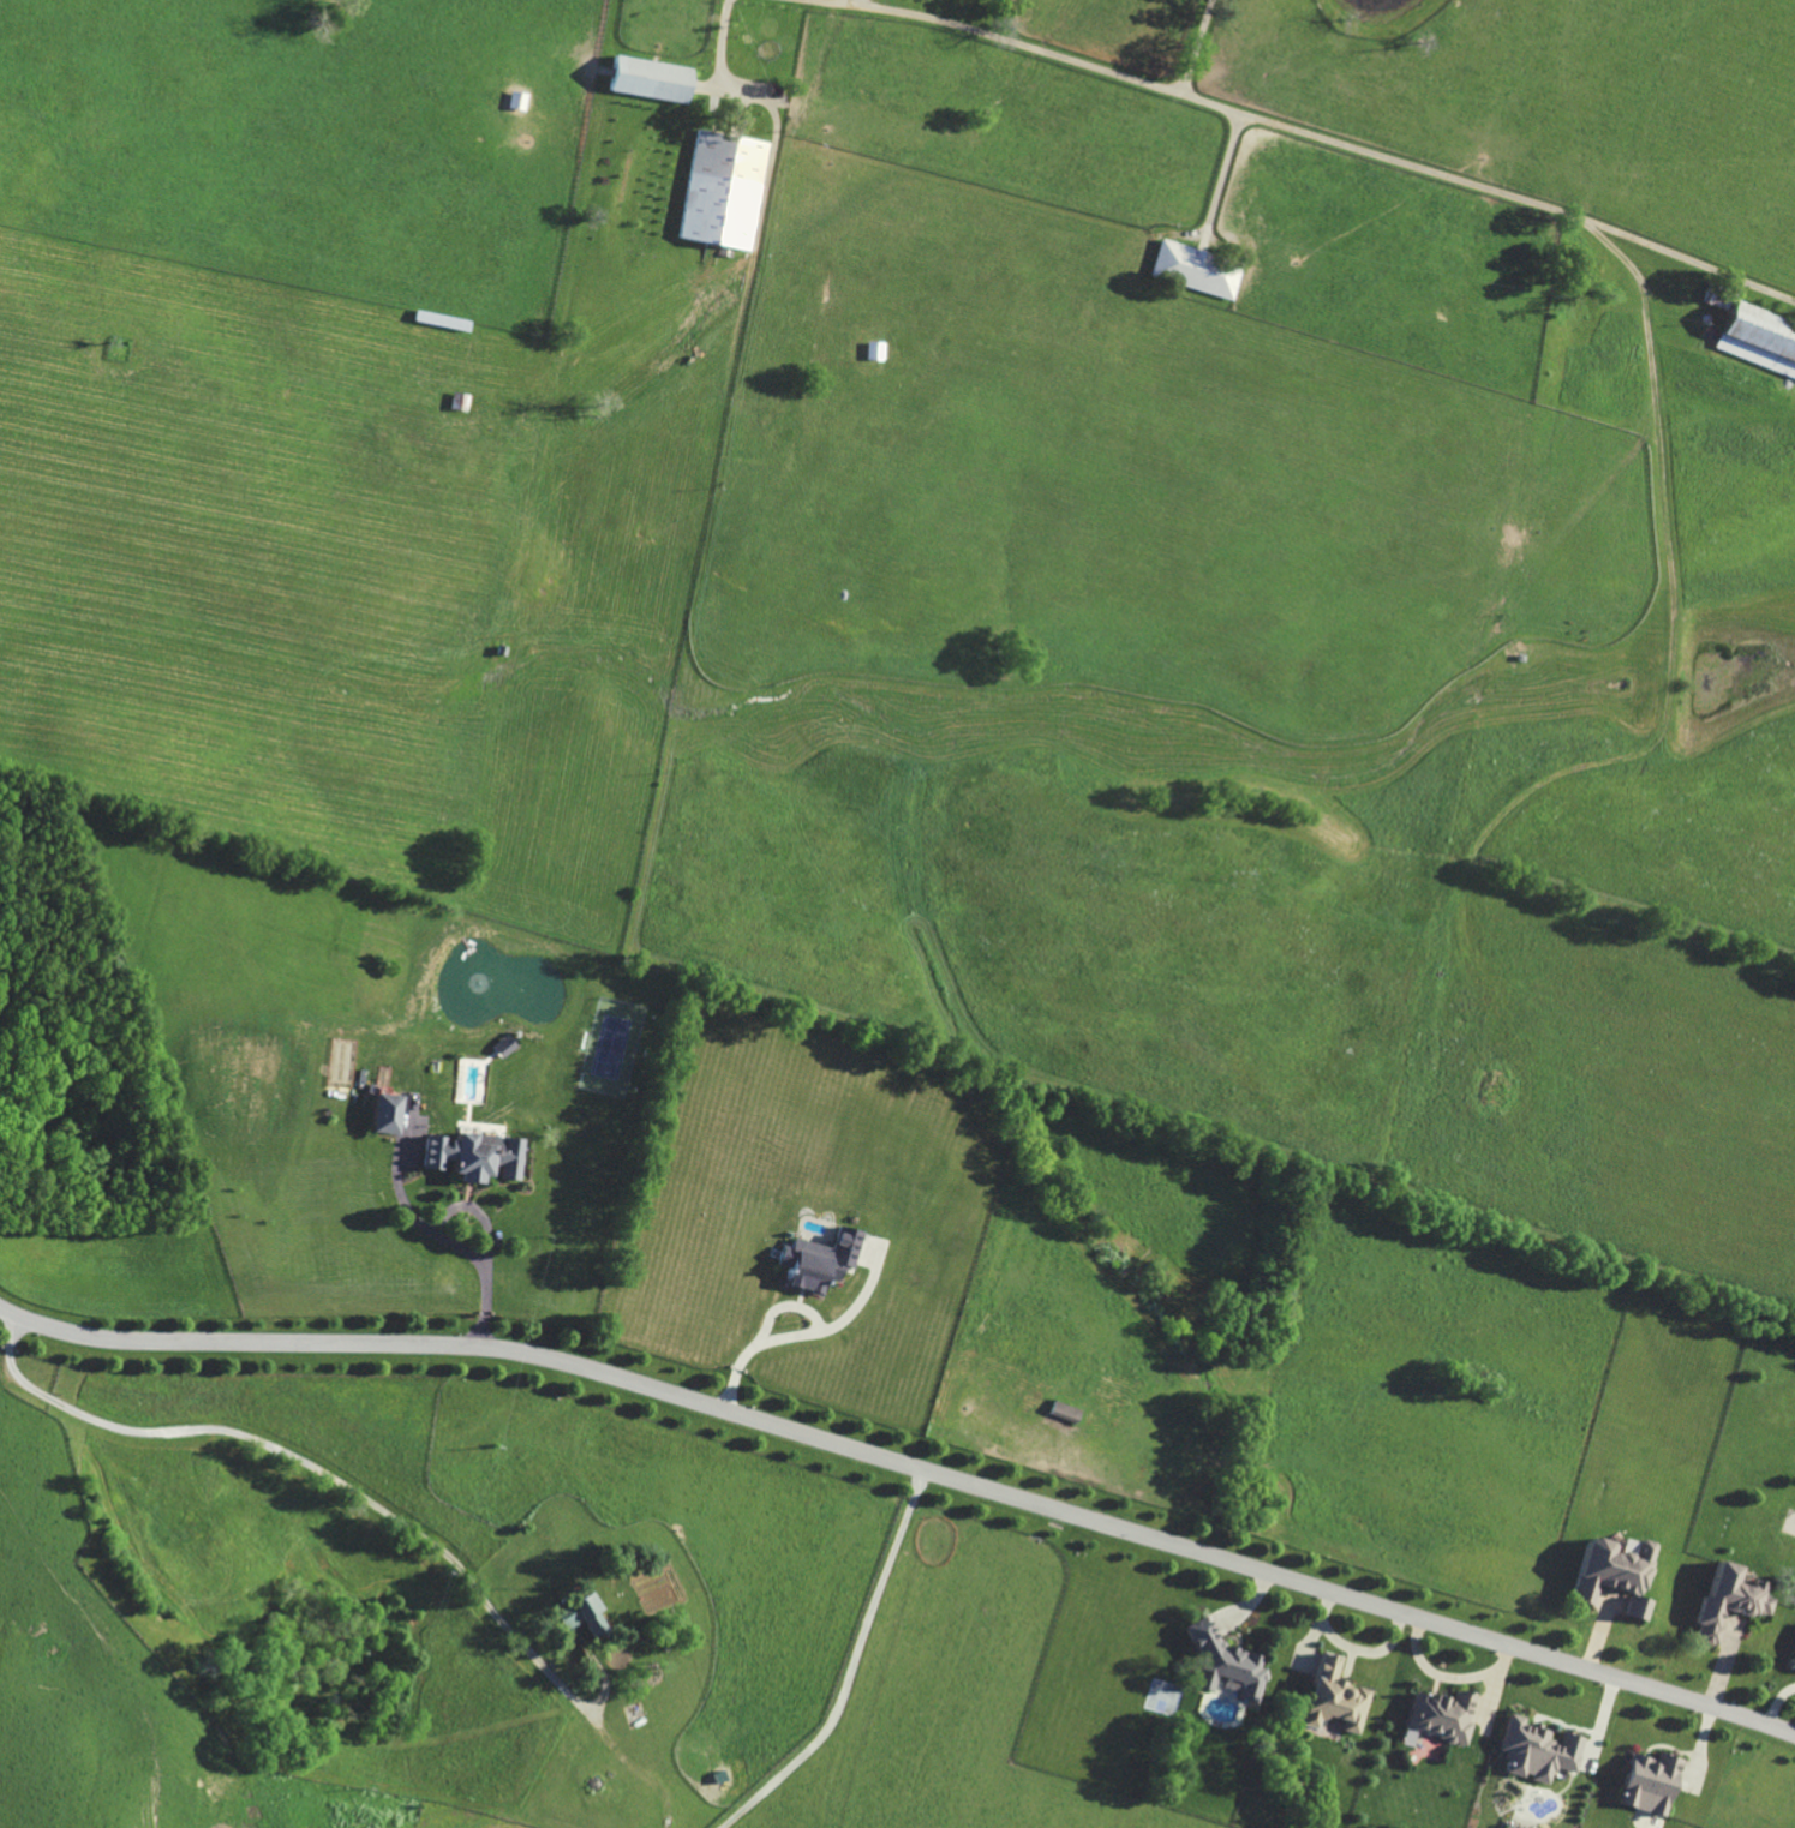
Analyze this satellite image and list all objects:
road: (722, 43)
road: (1197, 46)
building: (650, 78)
road: (1203, 100)
road: (1223, 175)
building: (722, 190)
building: (1196, 270)
building: (1759, 337)
building: (874, 350)
building: (387, 1113)
building: (474, 1156)
road: (474, 1209)
road: (432, 1234)
building: (820, 1260)
road: (786, 1303)
road: (809, 1332)
road: (303, 1461)
road: (907, 1462)
building: (1614, 1574)
building: (1728, 1600)
building: (582, 1616)
building: (1222, 1664)
road: (852, 1666)
building: (1333, 1696)
road: (1777, 1702)
building: (1441, 1715)
building: (1537, 1750)
building: (1649, 1782)

